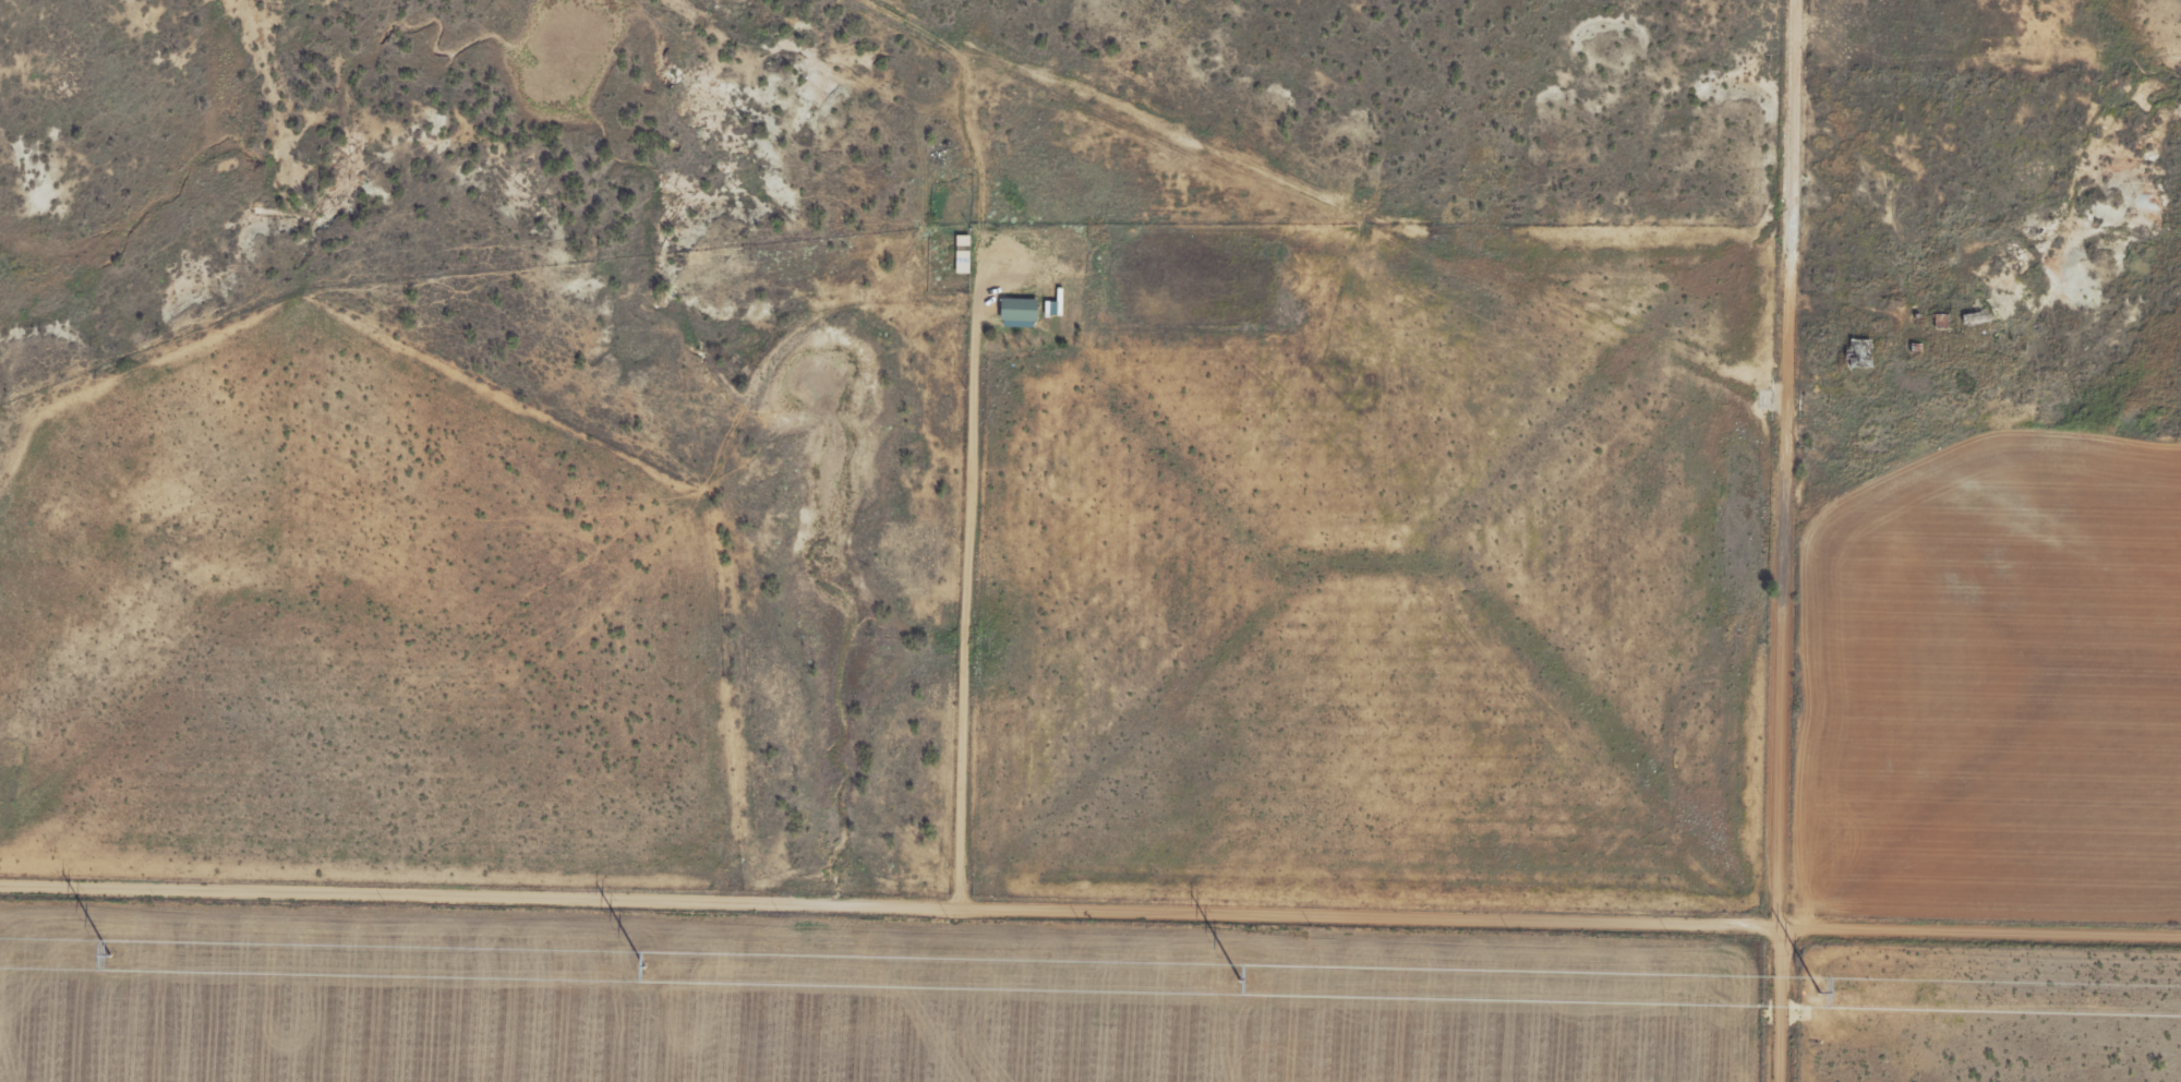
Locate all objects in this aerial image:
building: (961, 255)
building: (1016, 314)
building: (1940, 323)
building: (1973, 324)
building: (1857, 354)
road: (1790, 540)
road: (263, 776)
road: (1090, 906)
power tower: (110, 953)
power tower: (643, 965)
power tower: (1240, 977)
power tower: (1821, 990)

